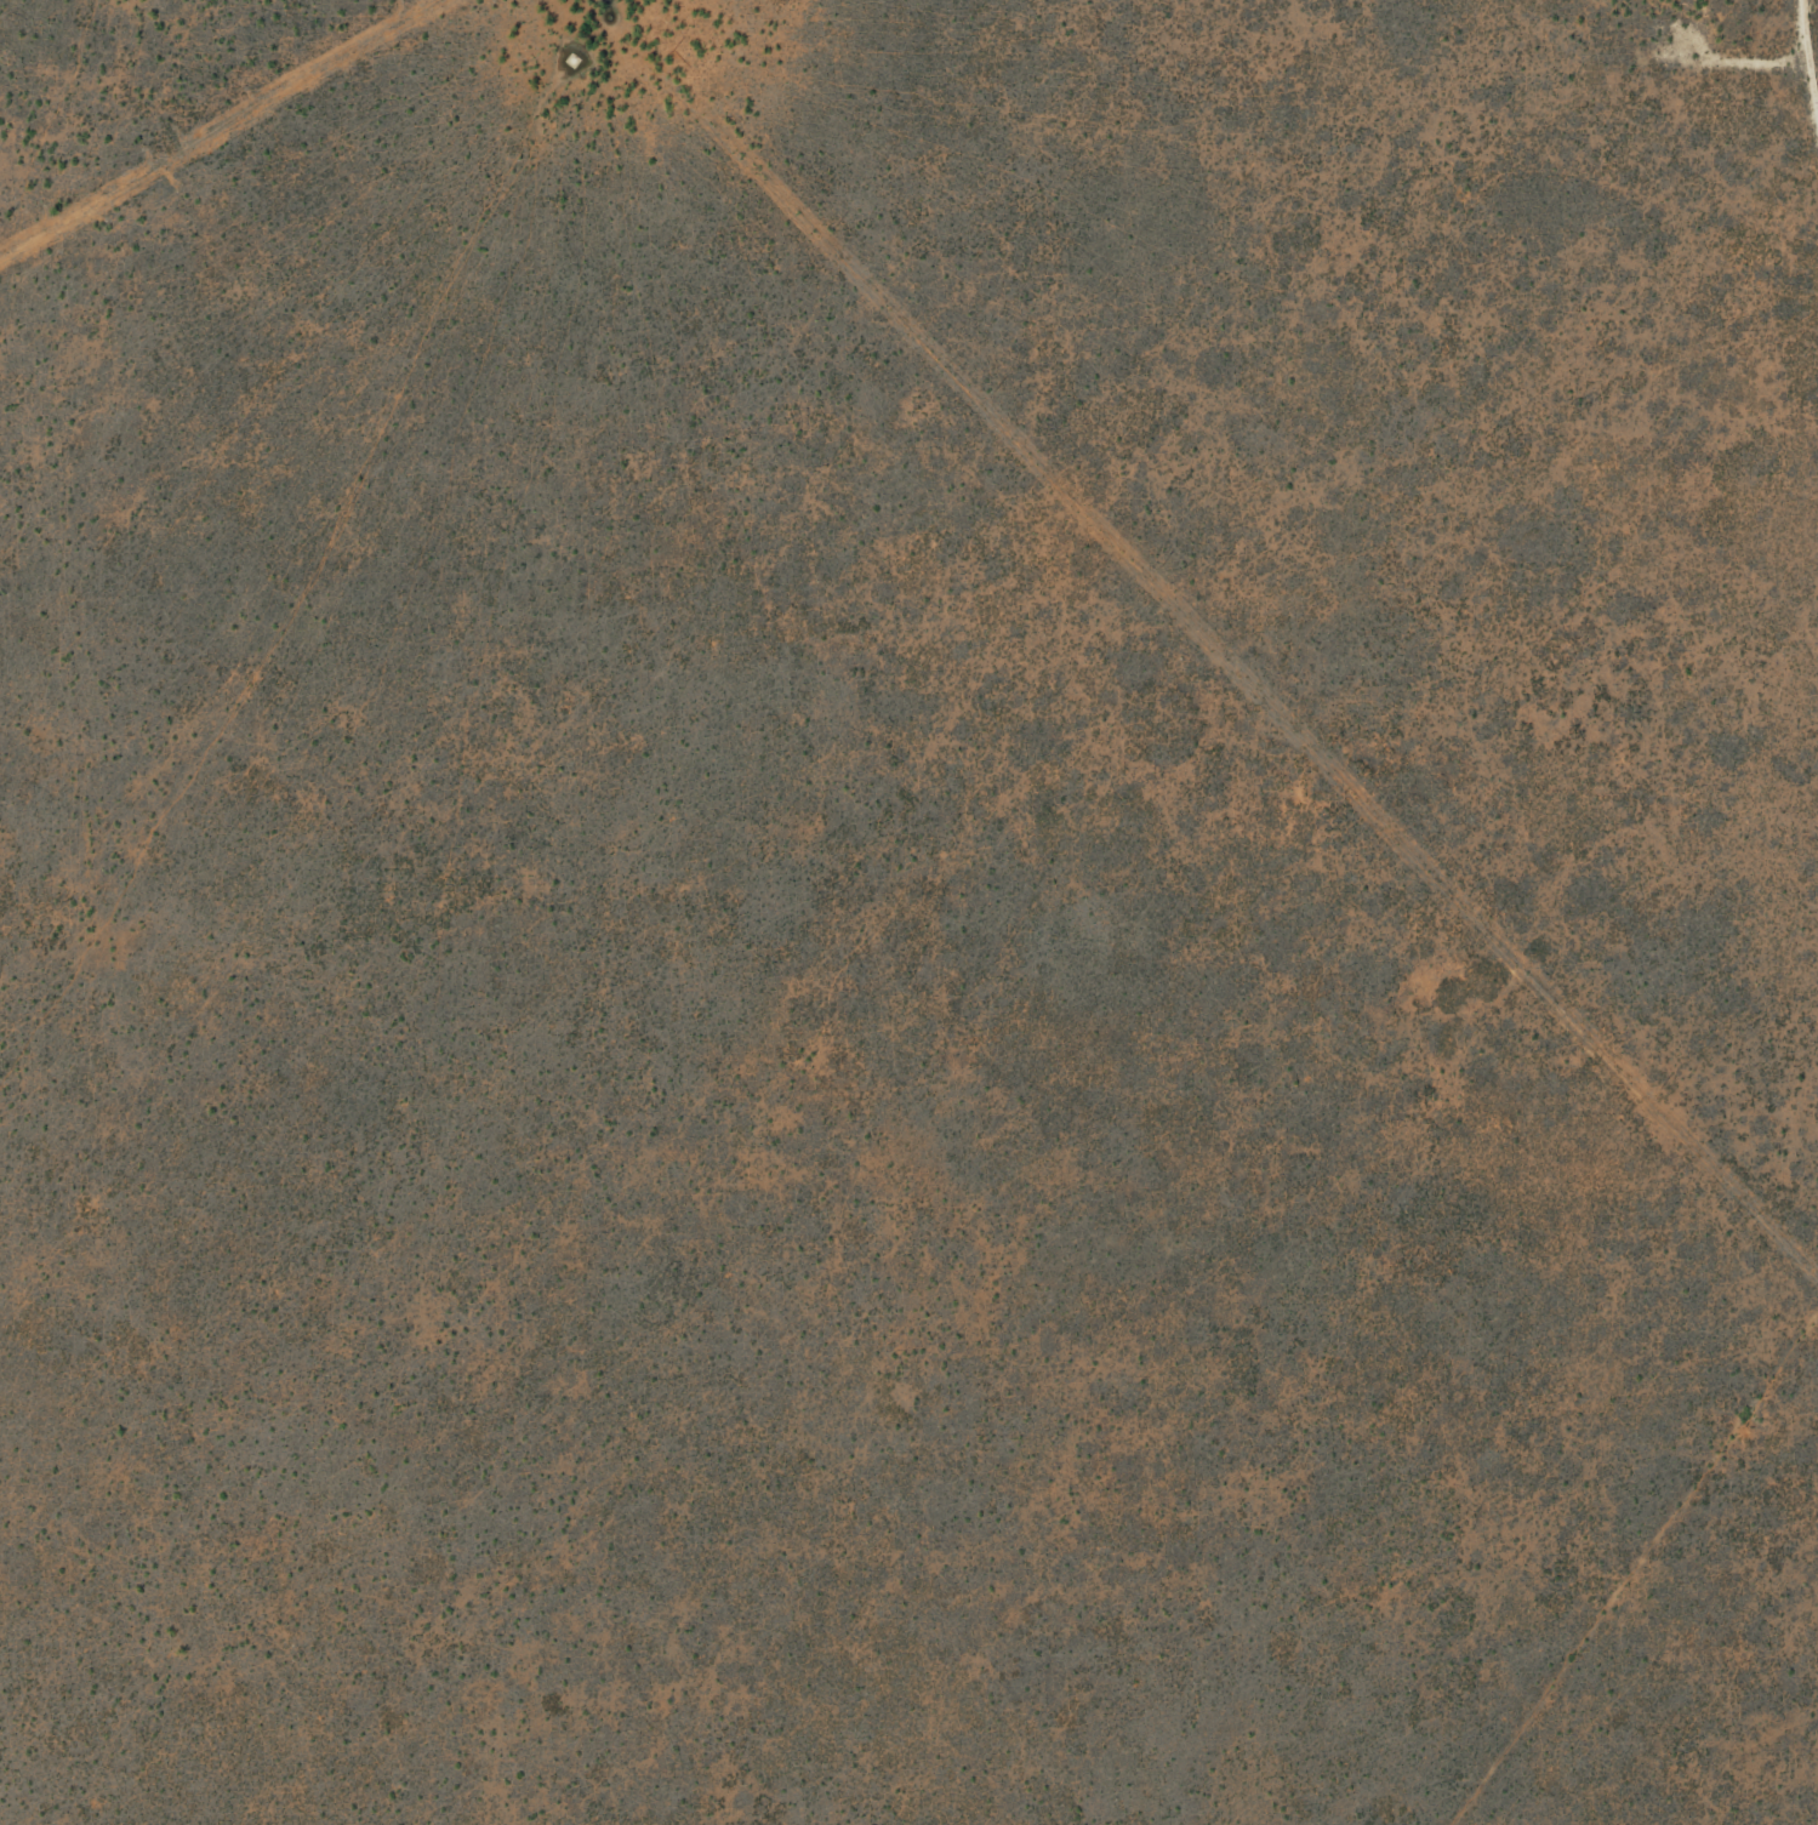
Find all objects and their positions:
road: (1760, 50)

